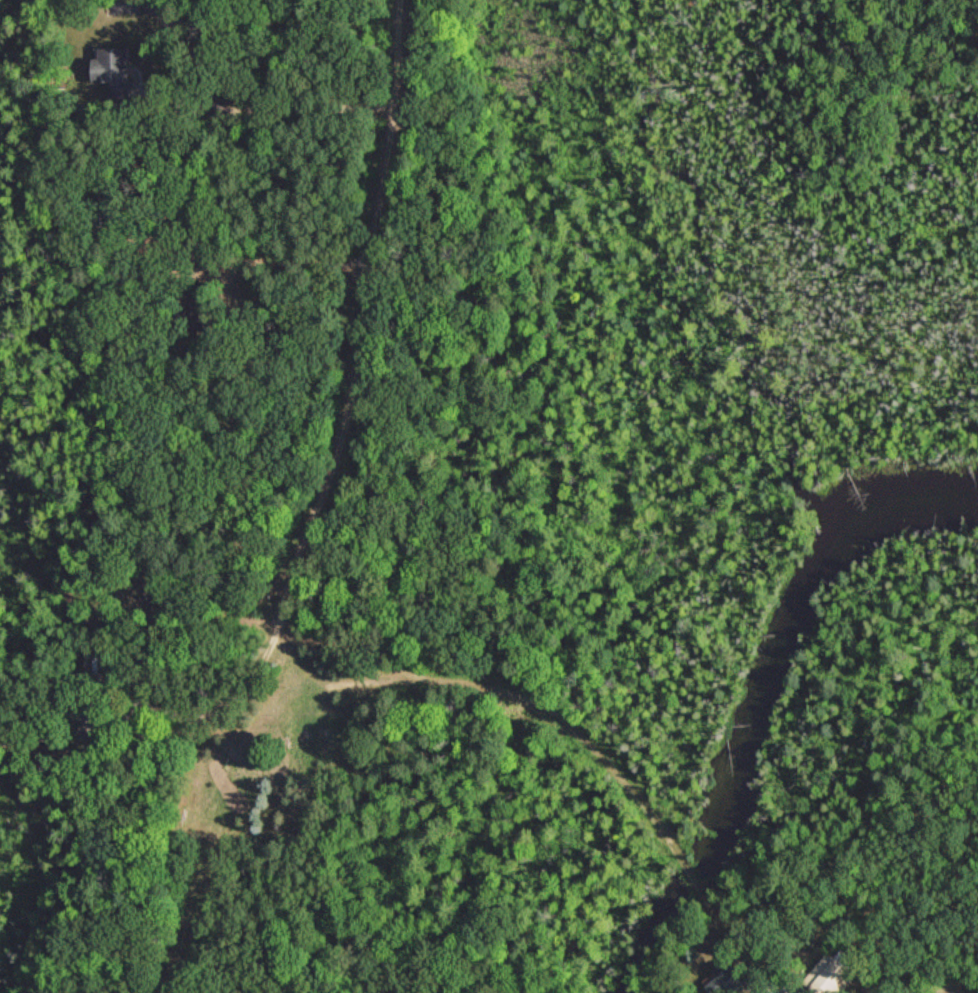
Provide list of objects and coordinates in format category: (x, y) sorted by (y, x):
road: (370, 321)
river: (765, 693)
building: (836, 972)

